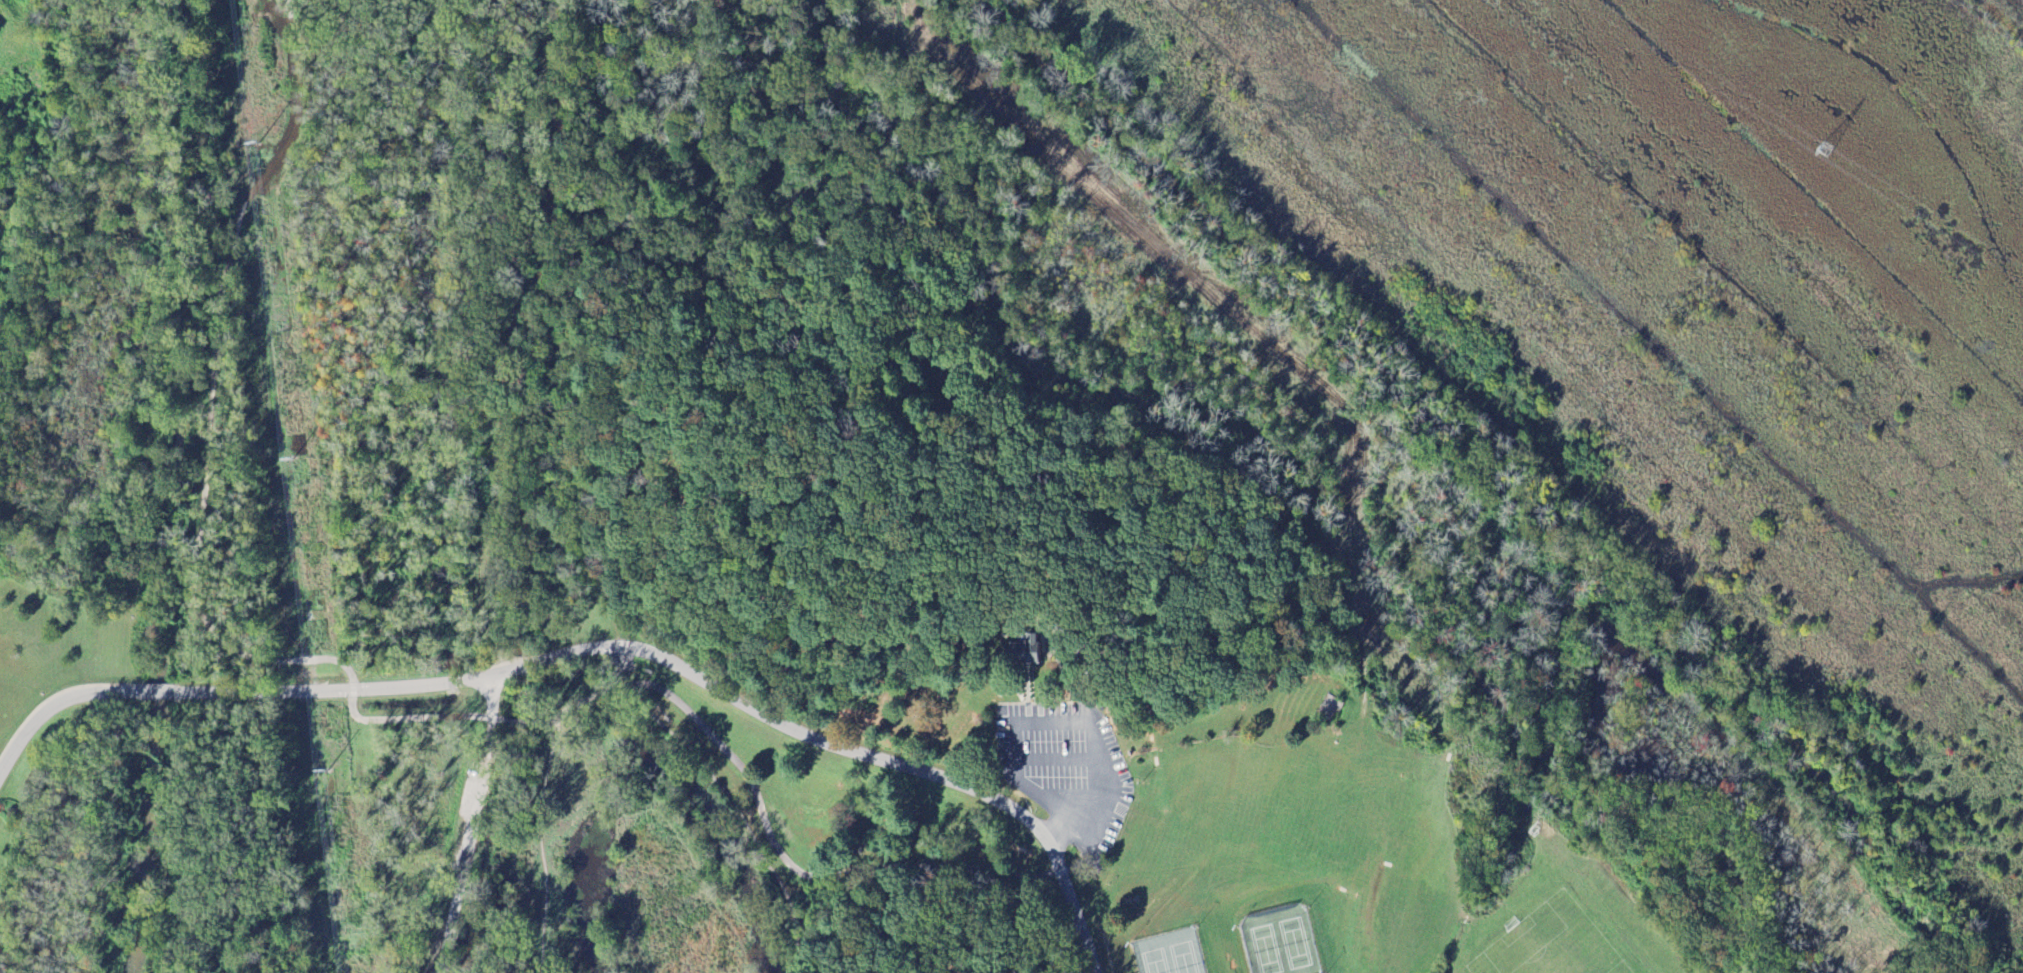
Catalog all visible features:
power tower: (1827, 151)
road: (503, 335)
park: (214, 368)
road: (203, 481)
park: (988, 600)
building: (1028, 654)
road: (248, 692)
road: (514, 723)
road: (1066, 724)
road: (854, 754)
parking lot: (1065, 769)
road: (1045, 797)
parking lot: (464, 815)
road: (739, 815)
road: (474, 825)
road: (766, 829)
road: (540, 843)
road: (1059, 940)
park: (1279, 940)
park: (1168, 953)

